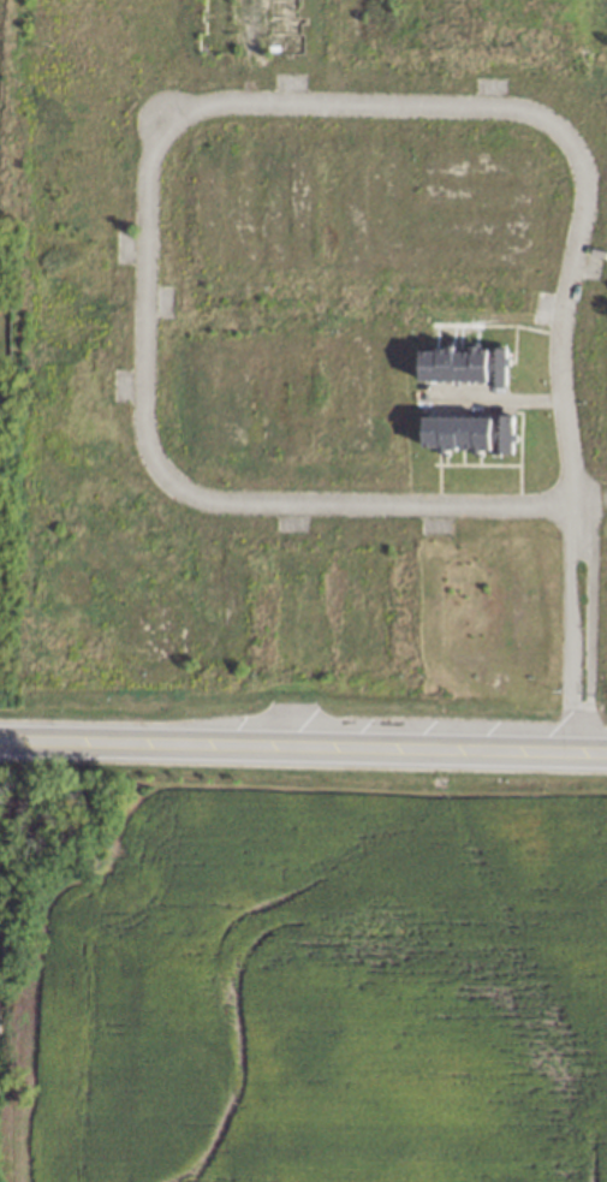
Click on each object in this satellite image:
road: (570, 137)
building: (468, 366)
building: (471, 432)
road: (570, 629)
road: (594, 629)
road: (284, 749)
road: (579, 755)
road: (599, 756)
crop: (333, 991)

